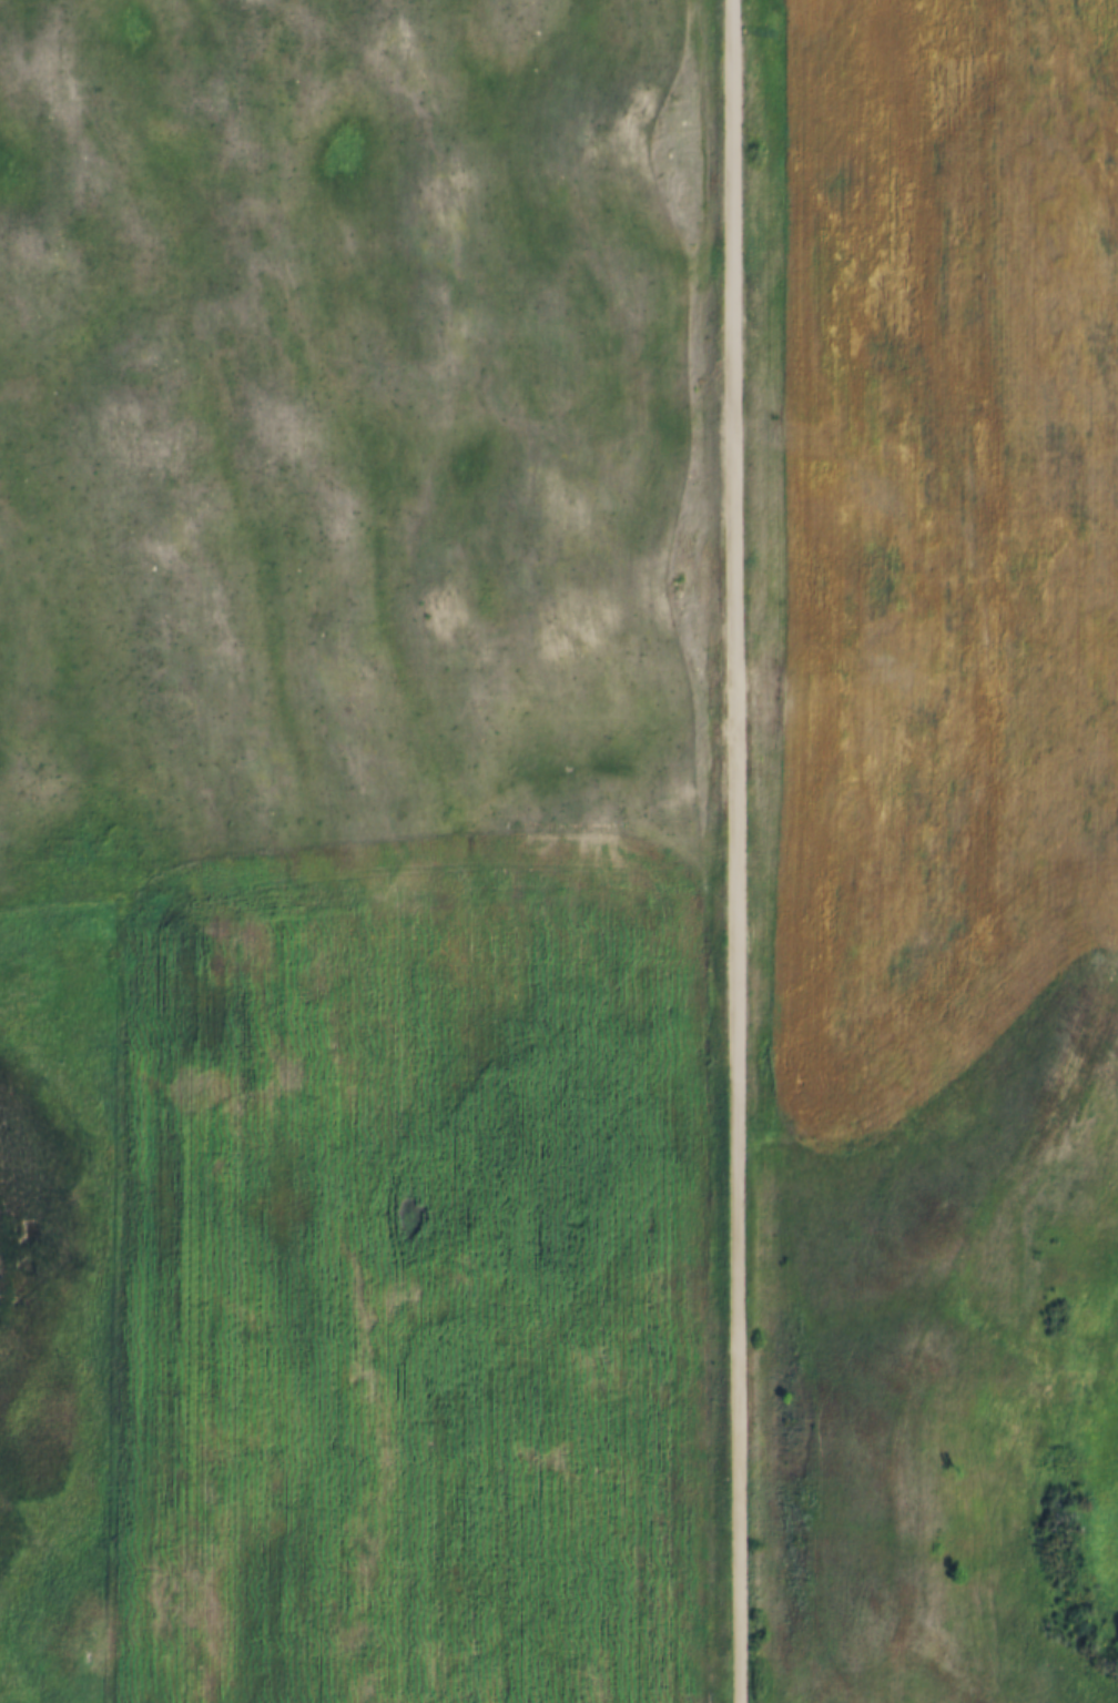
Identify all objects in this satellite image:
road: (735, 851)

